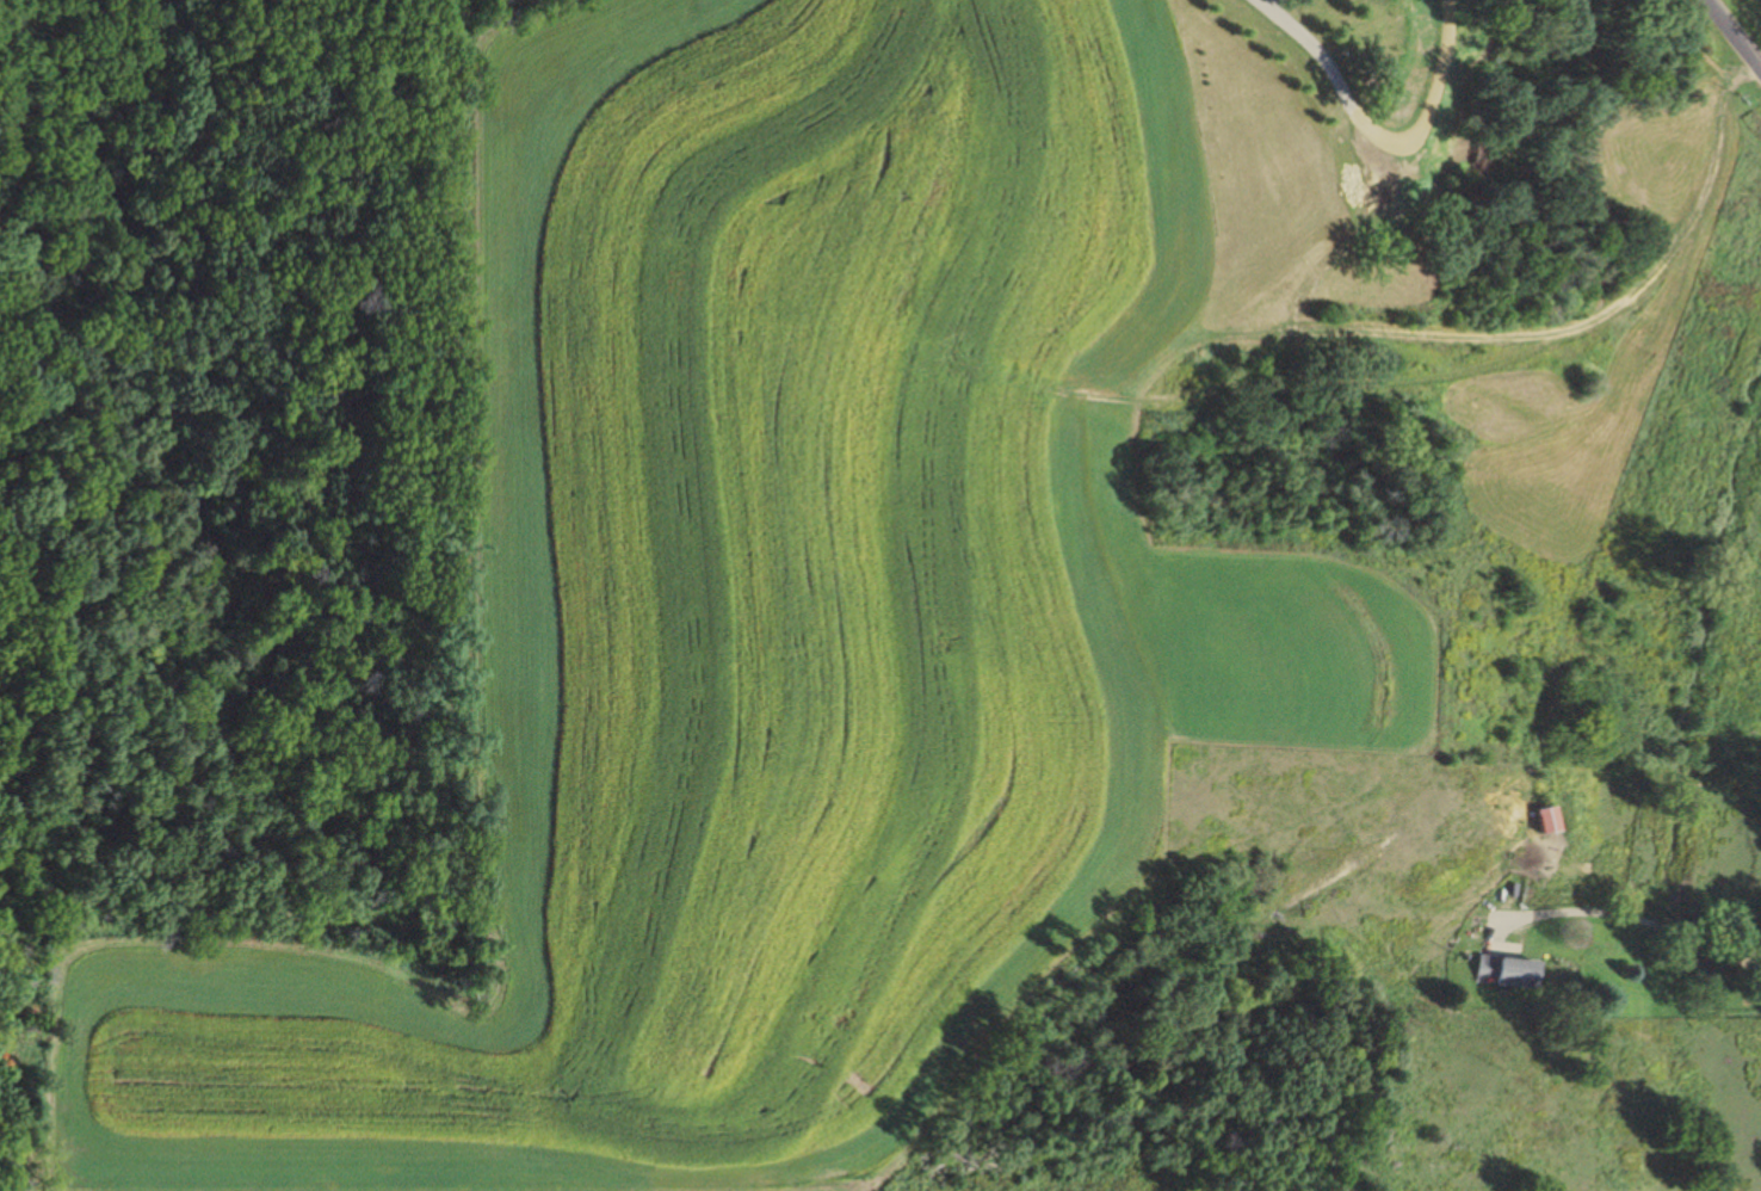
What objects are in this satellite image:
road: (113, 0)
road: (1734, 35)
road: (1361, 116)
road: (31, 117)
road: (440, 691)
building: (1537, 819)
road: (1635, 917)
building: (1506, 971)

